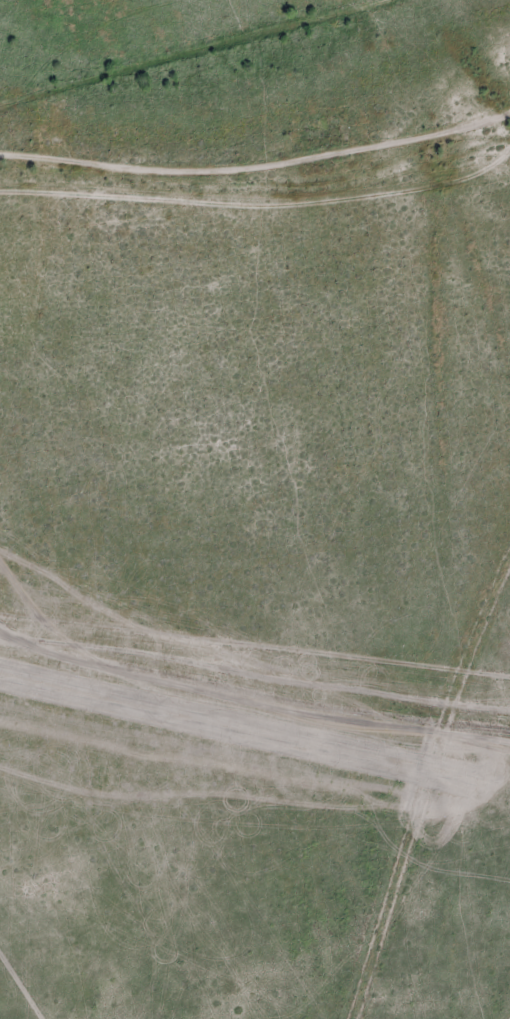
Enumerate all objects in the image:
road: (257, 161)

